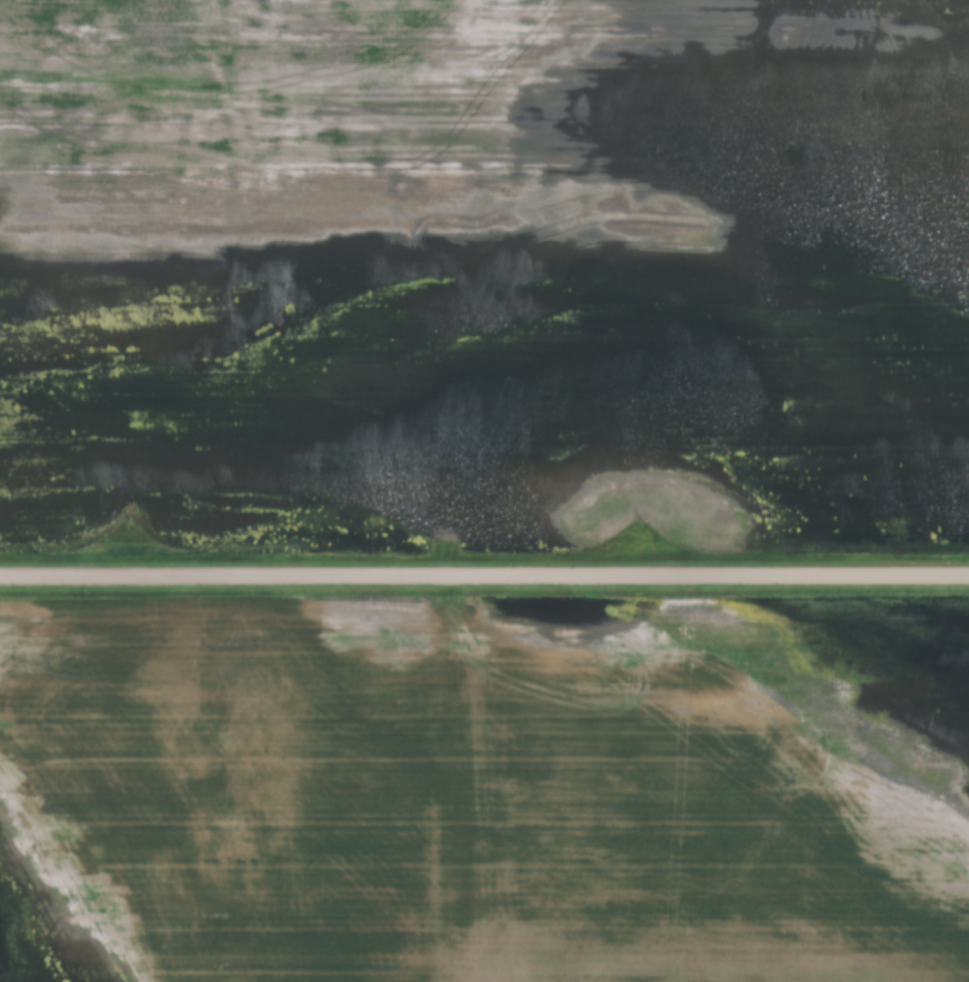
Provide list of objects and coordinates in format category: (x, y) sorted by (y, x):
road: (484, 577)

